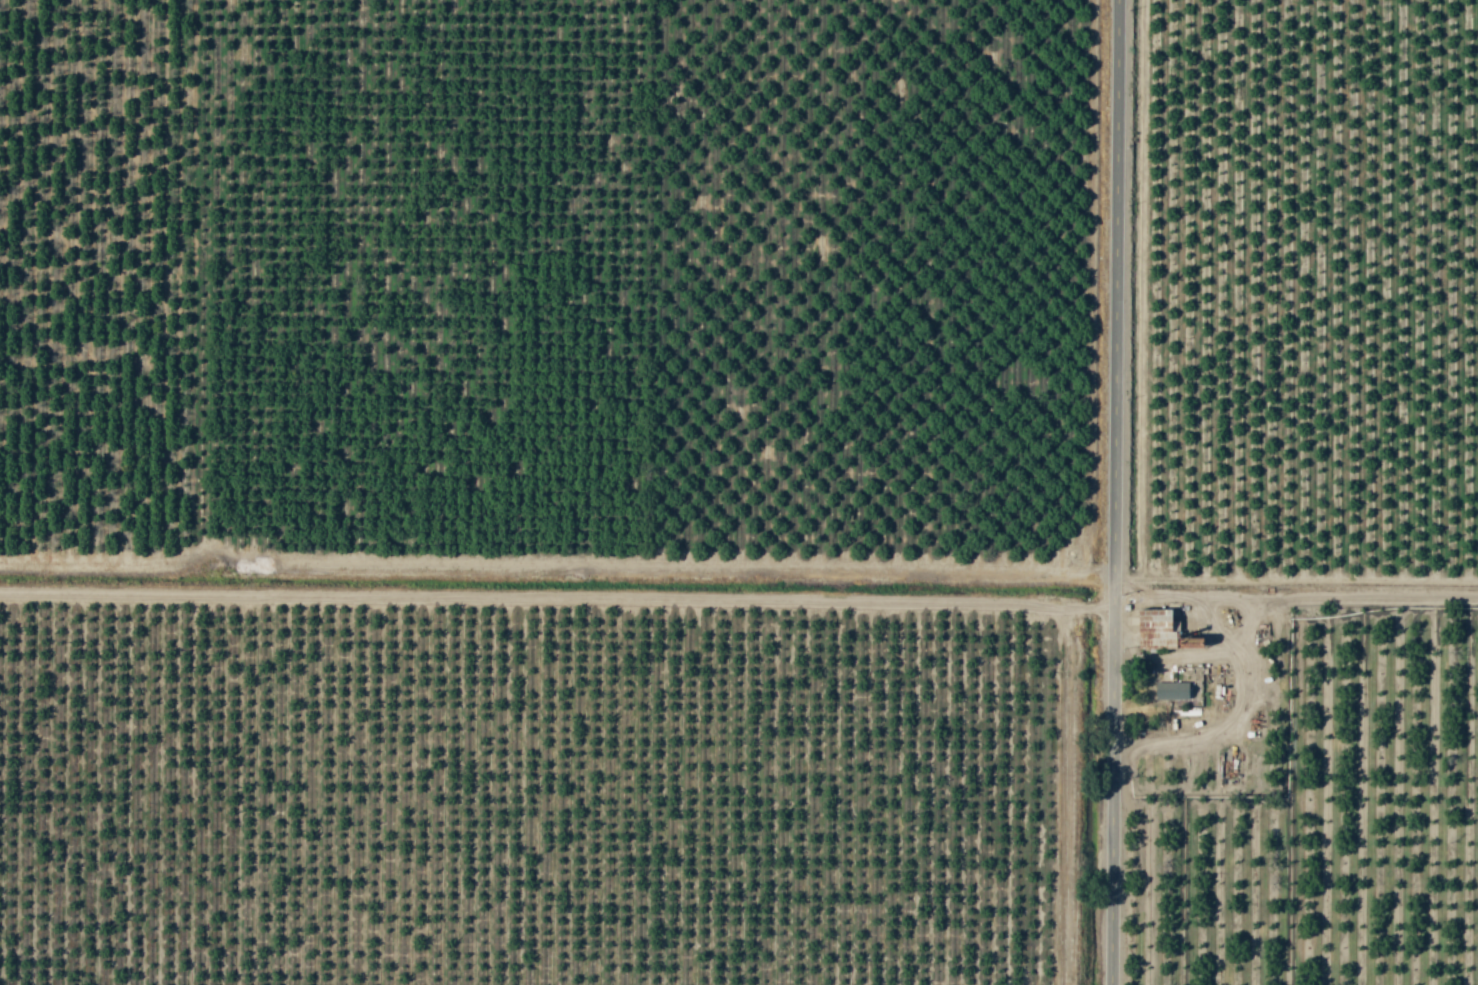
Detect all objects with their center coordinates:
road: (1123, 492)
building: (1172, 691)

